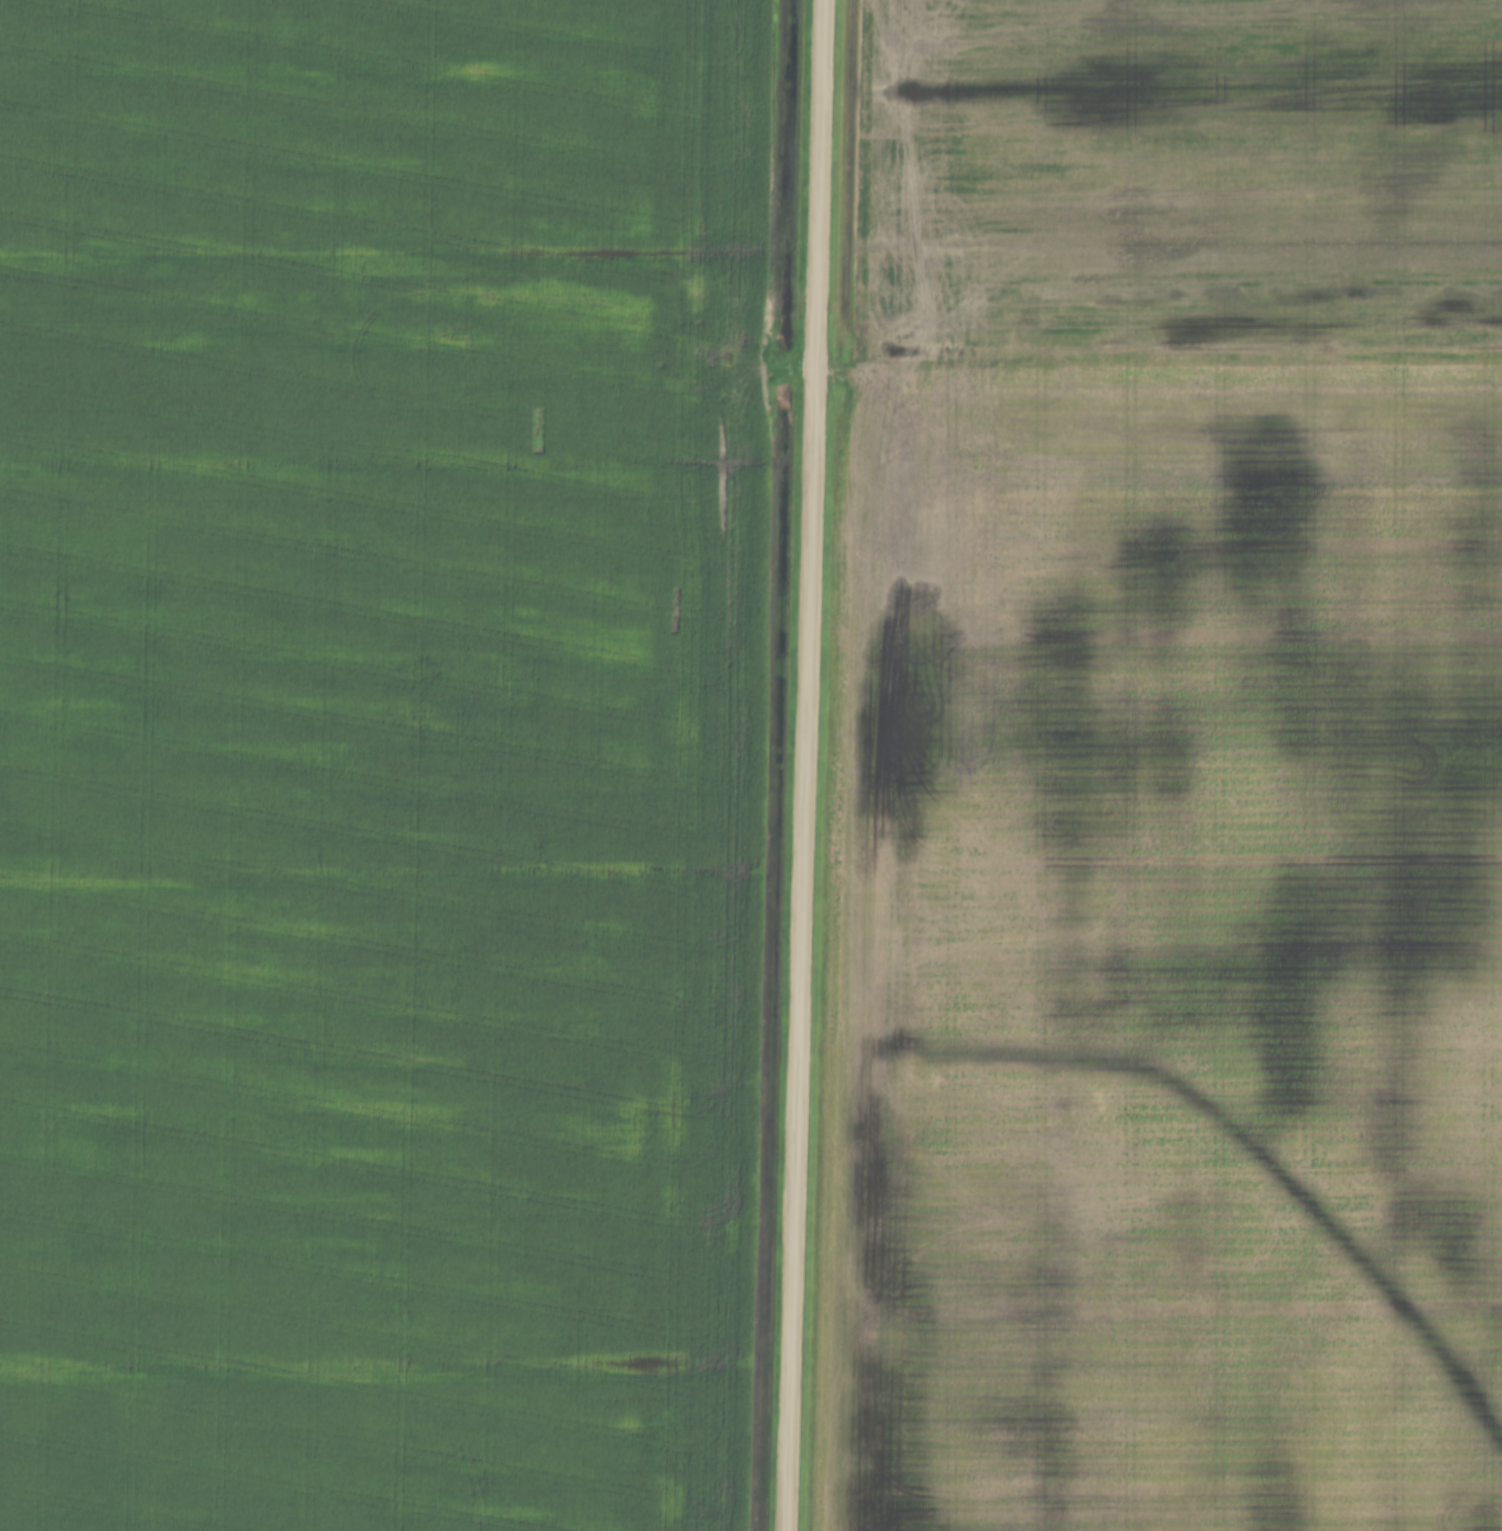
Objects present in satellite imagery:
crop: (383, 759)
road: (807, 765)
crop: (1165, 774)

